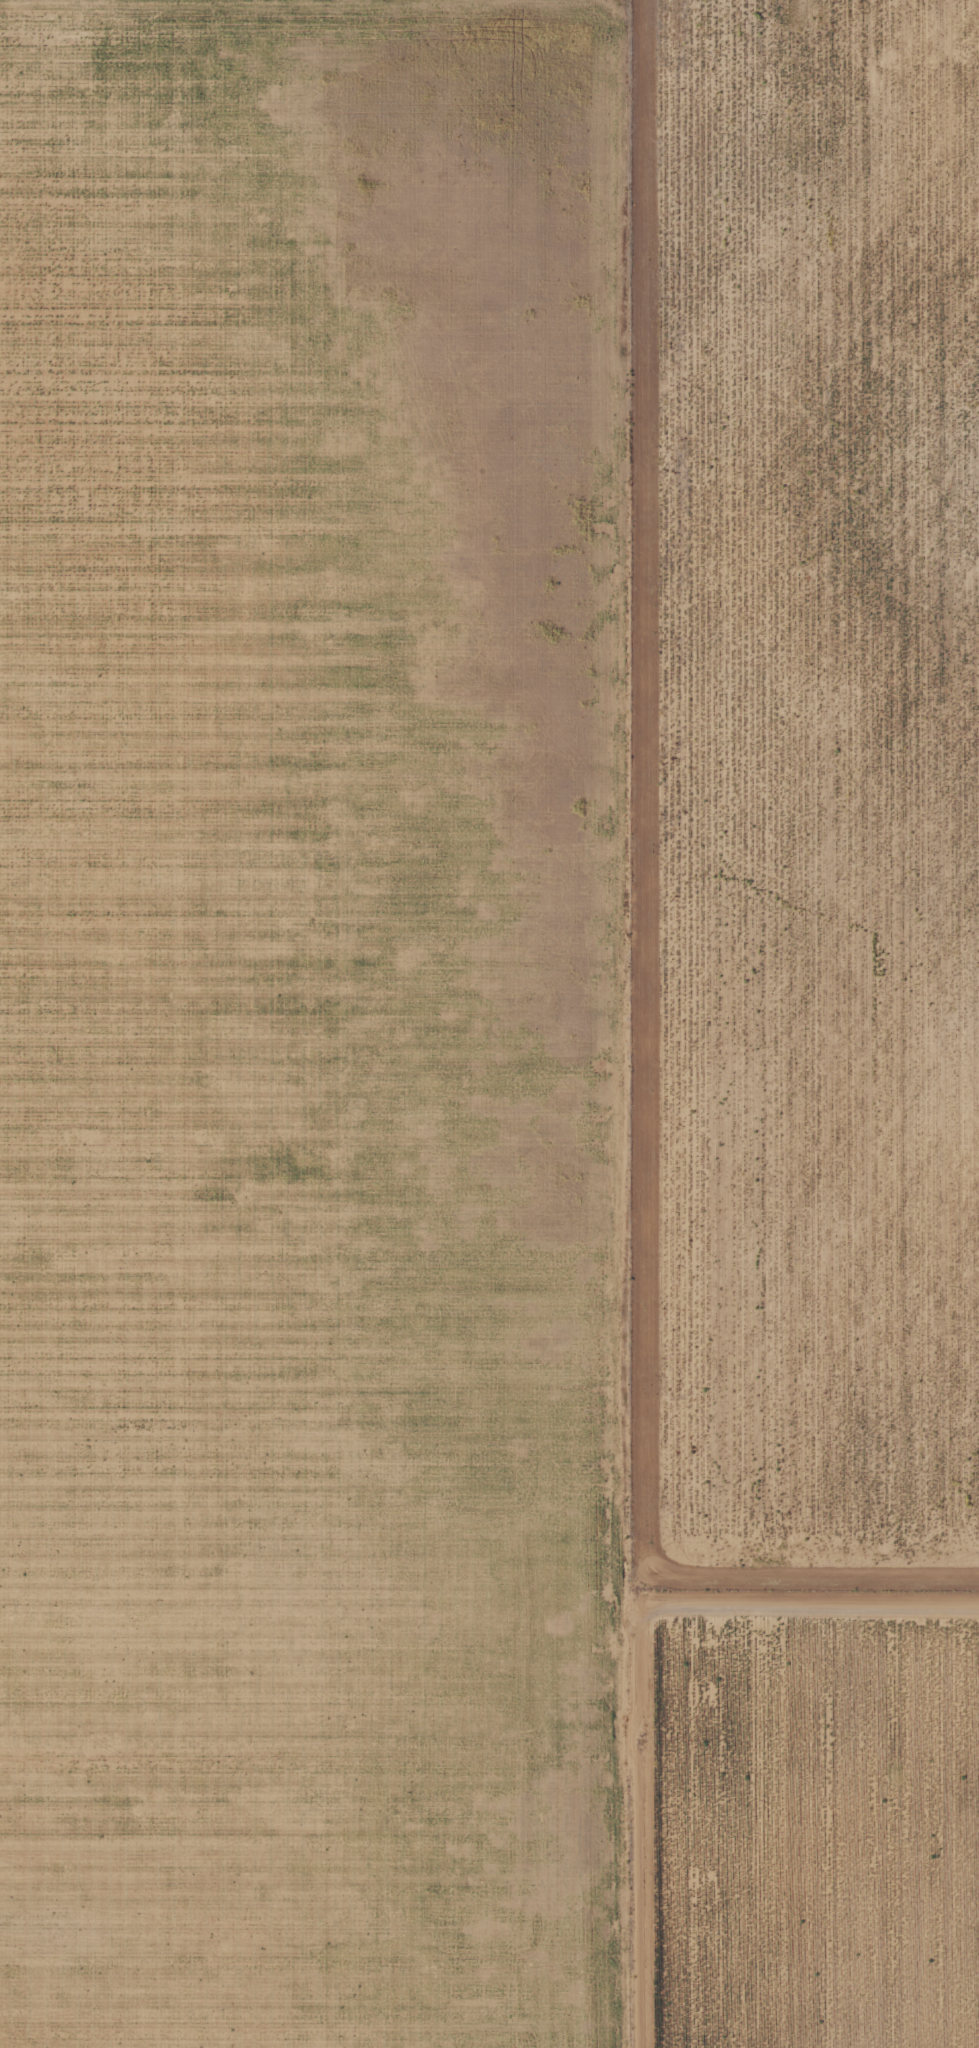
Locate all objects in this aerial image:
road: (813, 1603)

